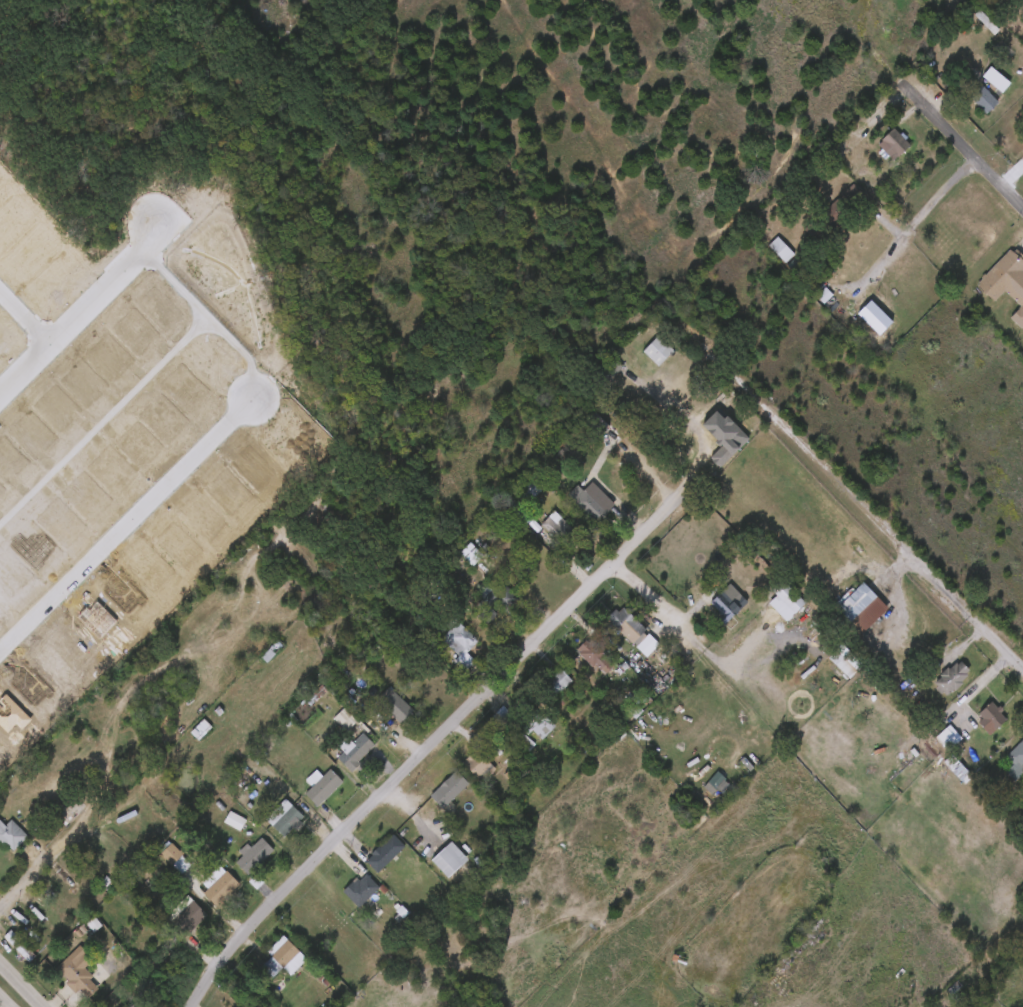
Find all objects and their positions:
road: (871, 49)
building: (985, 96)
building: (895, 144)
road: (965, 148)
road: (967, 169)
building: (835, 213)
road: (902, 240)
building: (779, 249)
building: (1007, 281)
road: (99, 296)
building: (871, 316)
building: (659, 351)
road: (39, 353)
building: (596, 425)
road: (697, 428)
road: (605, 450)
building: (529, 494)
building: (592, 501)
building: (521, 511)
road: (866, 512)
road: (124, 530)
building: (562, 531)
building: (471, 556)
building: (432, 586)
road: (646, 593)
building: (723, 599)
building: (497, 601)
building: (858, 603)
building: (627, 623)
road: (693, 635)
building: (461, 644)
building: (596, 653)
road: (742, 654)
building: (949, 679)
building: (557, 682)
building: (394, 705)
building: (991, 716)
building: (522, 721)
building: (935, 747)
building: (354, 750)
road: (428, 750)
building: (1016, 761)
building: (480, 764)
building: (323, 787)
building: (452, 790)
building: (287, 818)
building: (235, 823)
building: (12, 835)
building: (385, 853)
building: (171, 856)
building: (256, 856)
building: (100, 859)
building: (449, 860)
road: (43, 866)
building: (221, 886)
building: (362, 891)
building: (62, 899)
building: (45, 913)
building: (187, 916)
building: (20, 948)
building: (281, 960)
building: (74, 971)
road: (18, 988)
road: (1, 1005)
building: (138, 1005)

